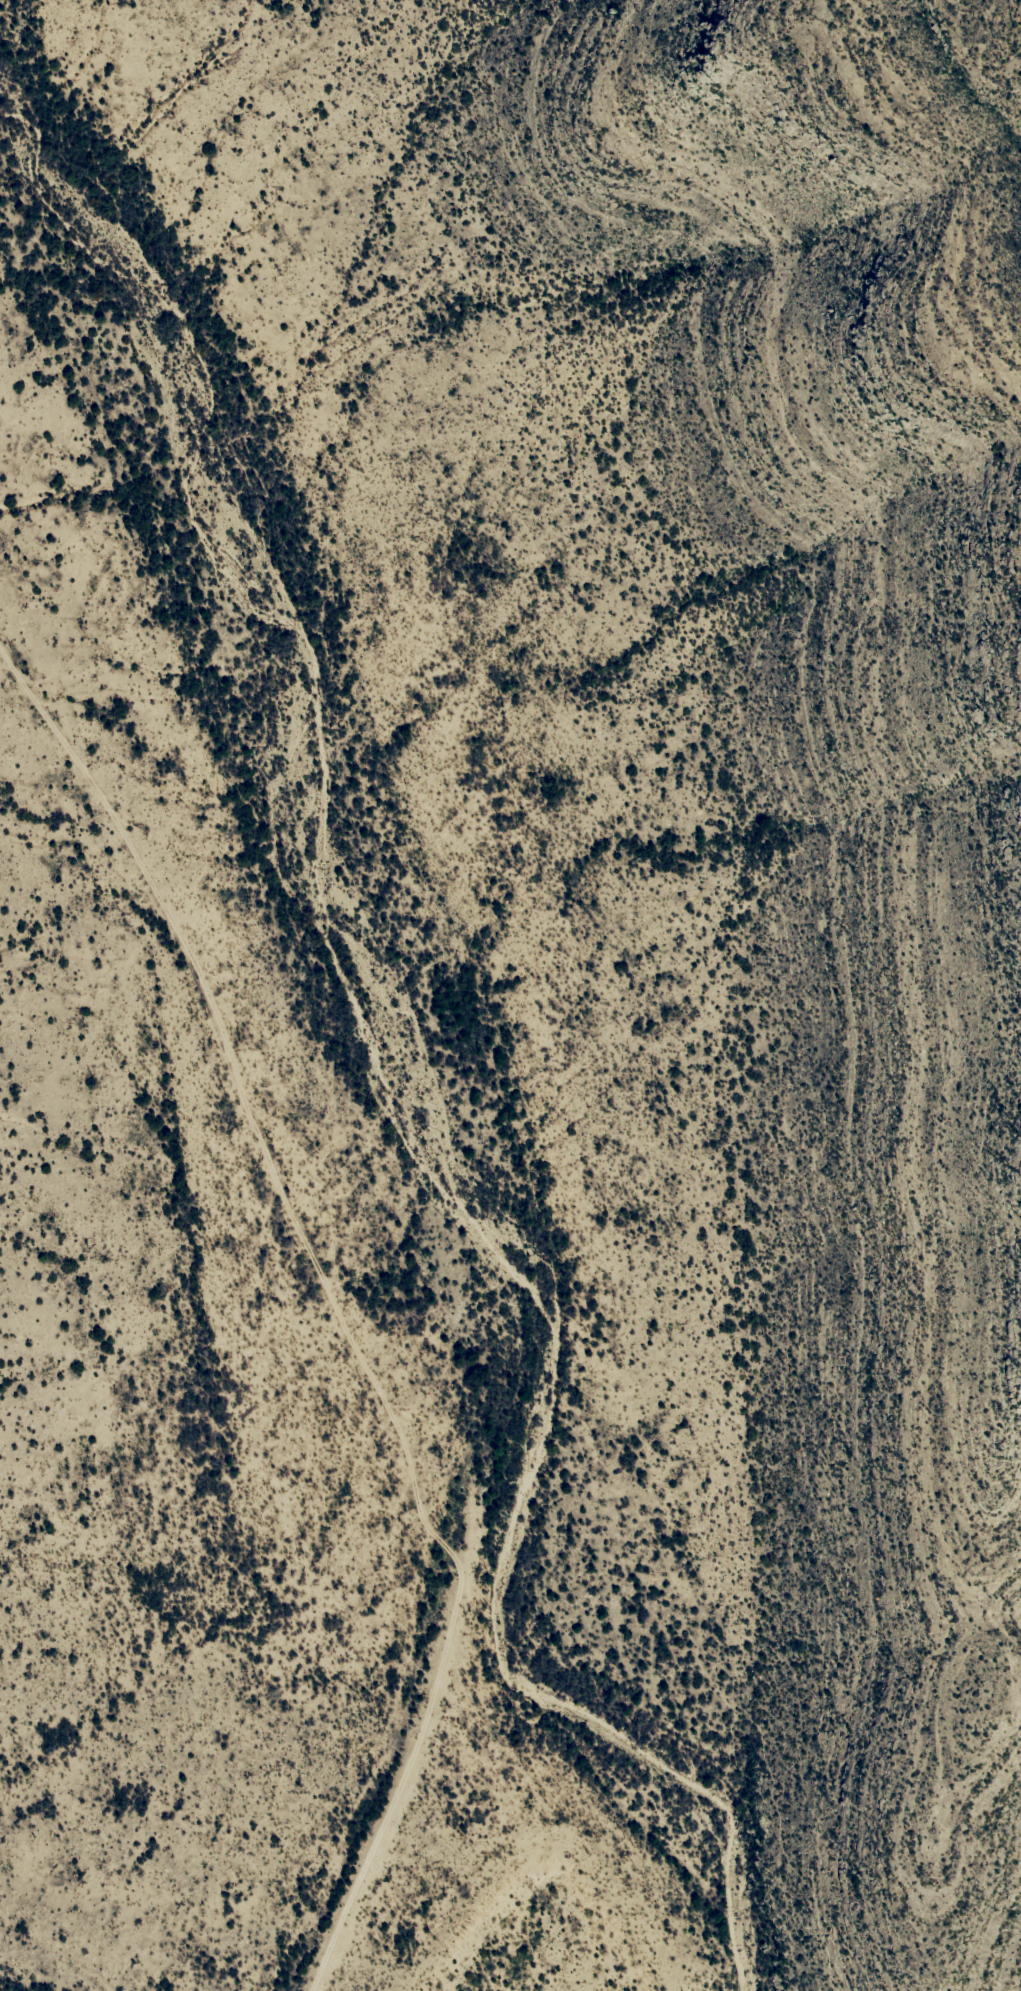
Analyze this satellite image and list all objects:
road: (334, 1307)

